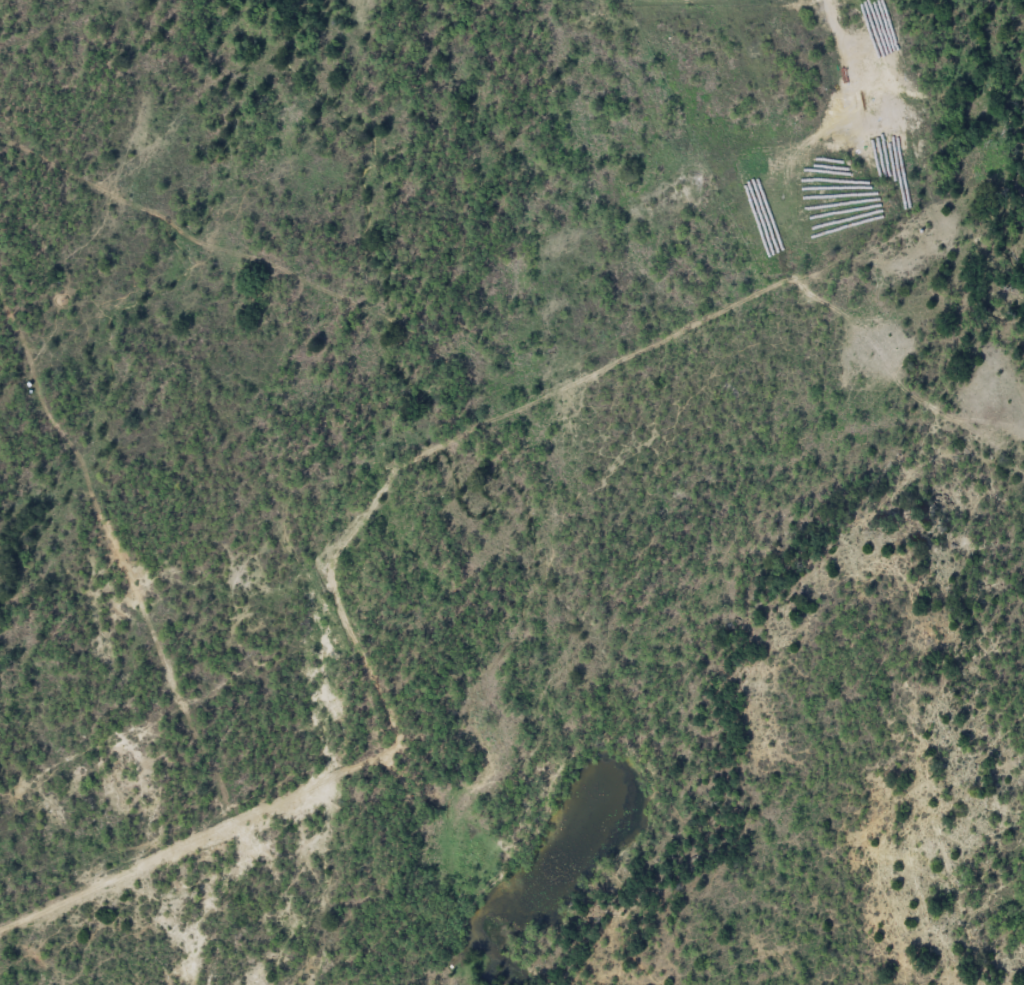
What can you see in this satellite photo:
road: (712, 4)

